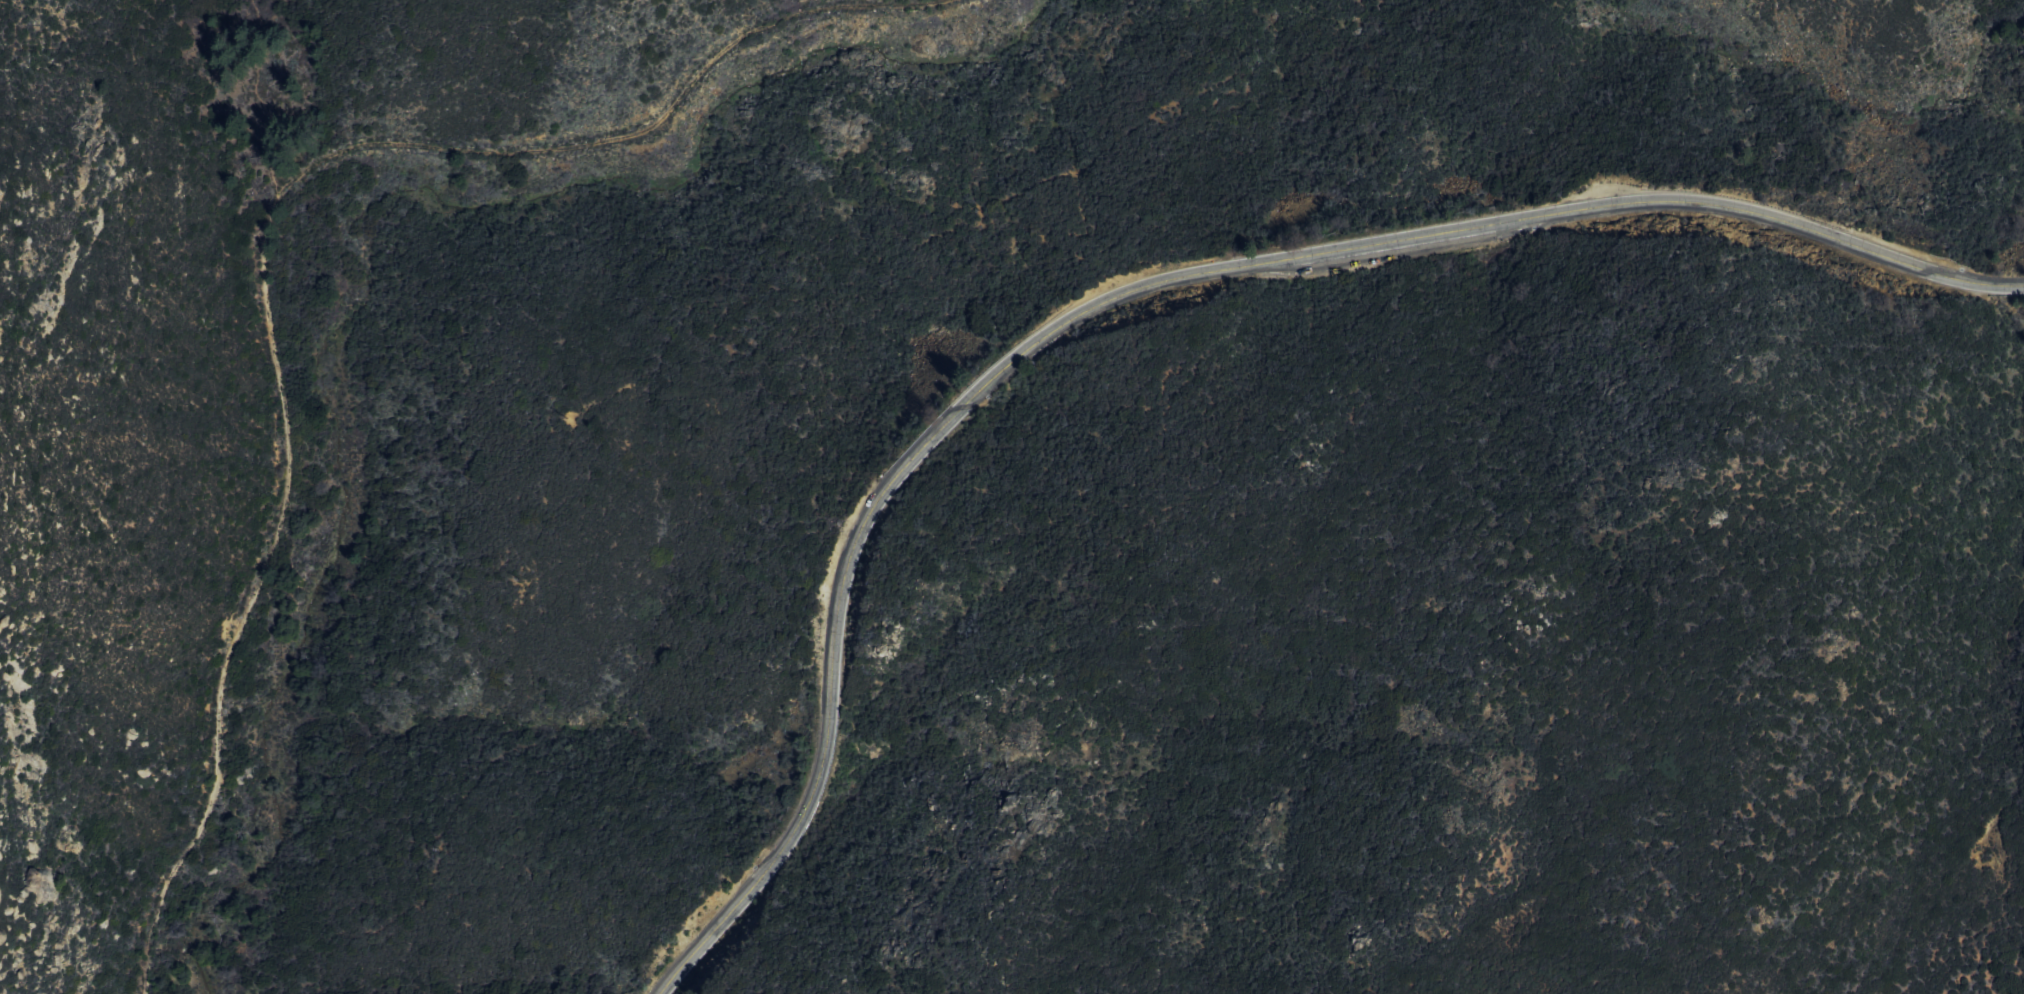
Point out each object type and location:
road: (256, 99)
road: (265, 243)
road: (1146, 292)

